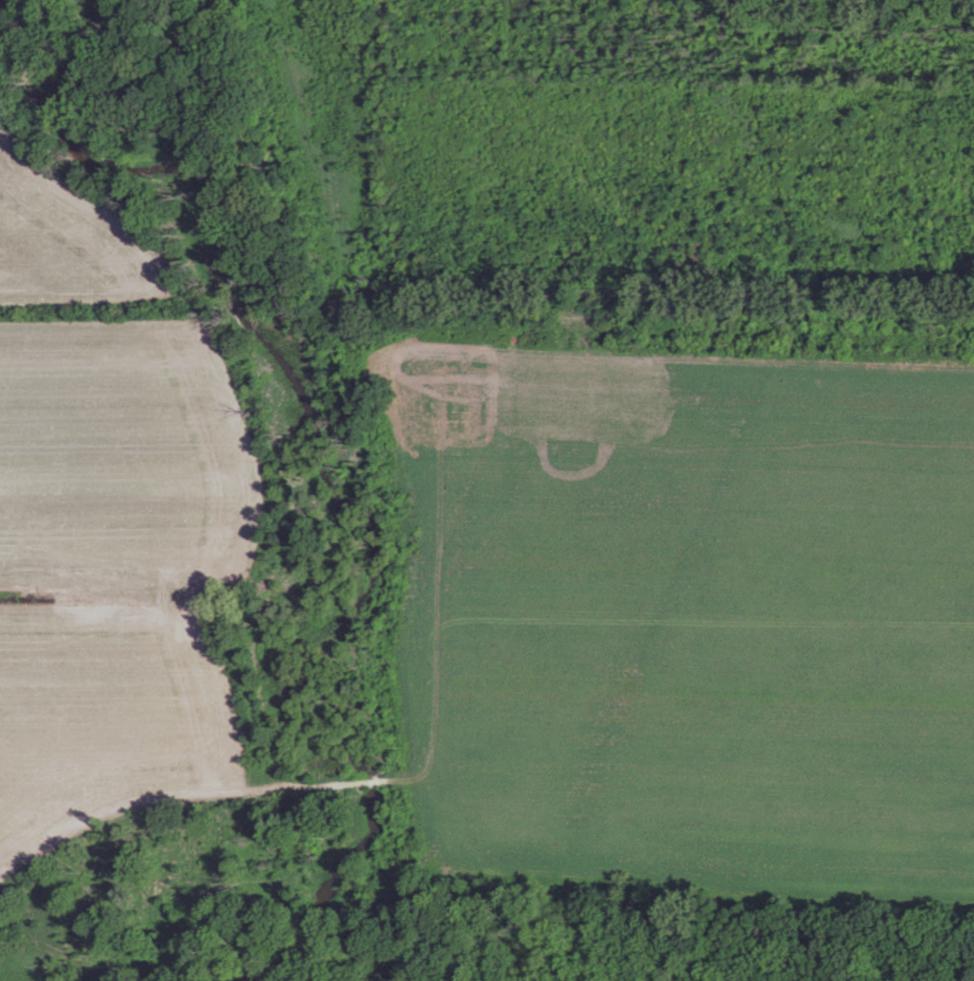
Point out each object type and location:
road: (153, 799)

